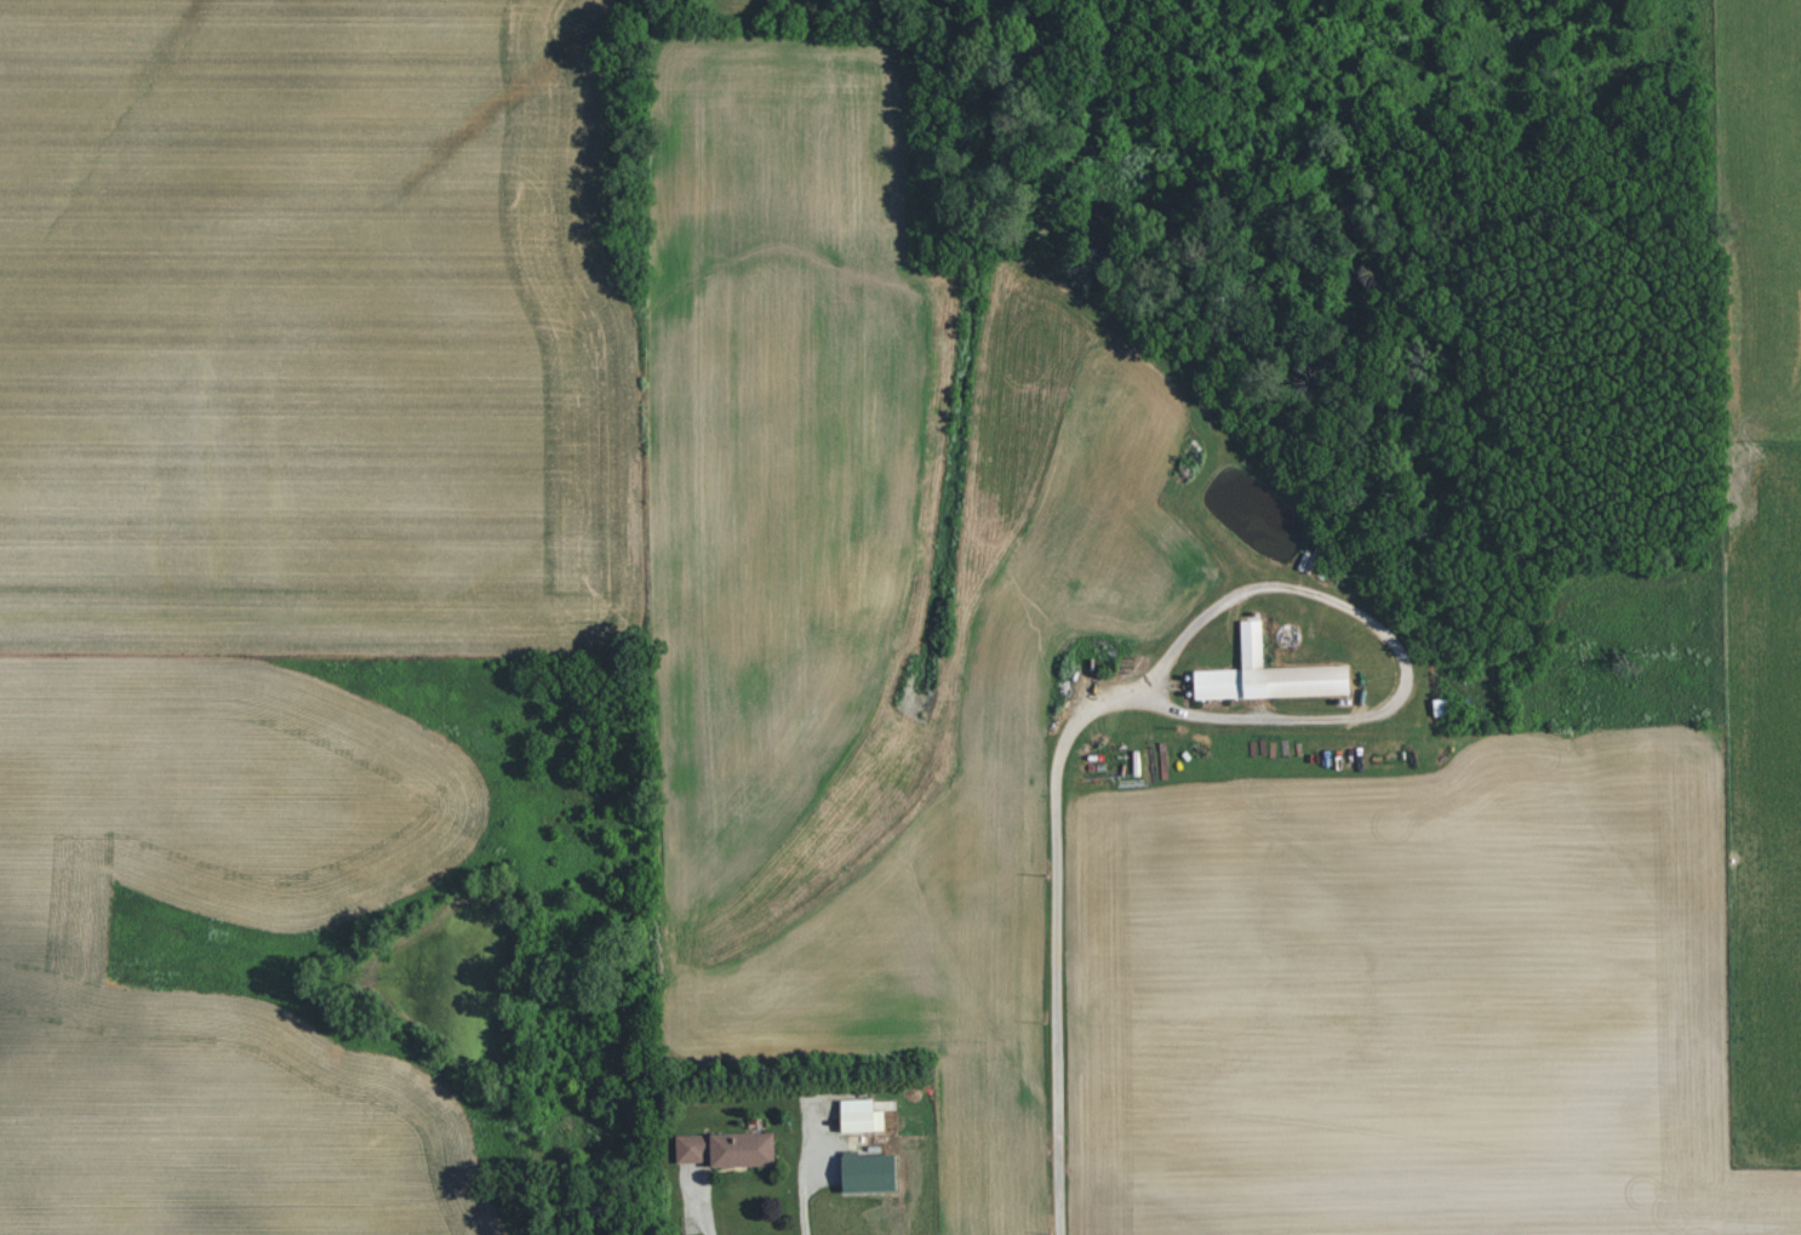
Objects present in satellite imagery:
road: (1397, 648)
building: (1268, 674)
road: (1056, 936)
building: (859, 1116)
building: (726, 1149)
road: (804, 1171)
building: (868, 1173)
road: (701, 1207)

